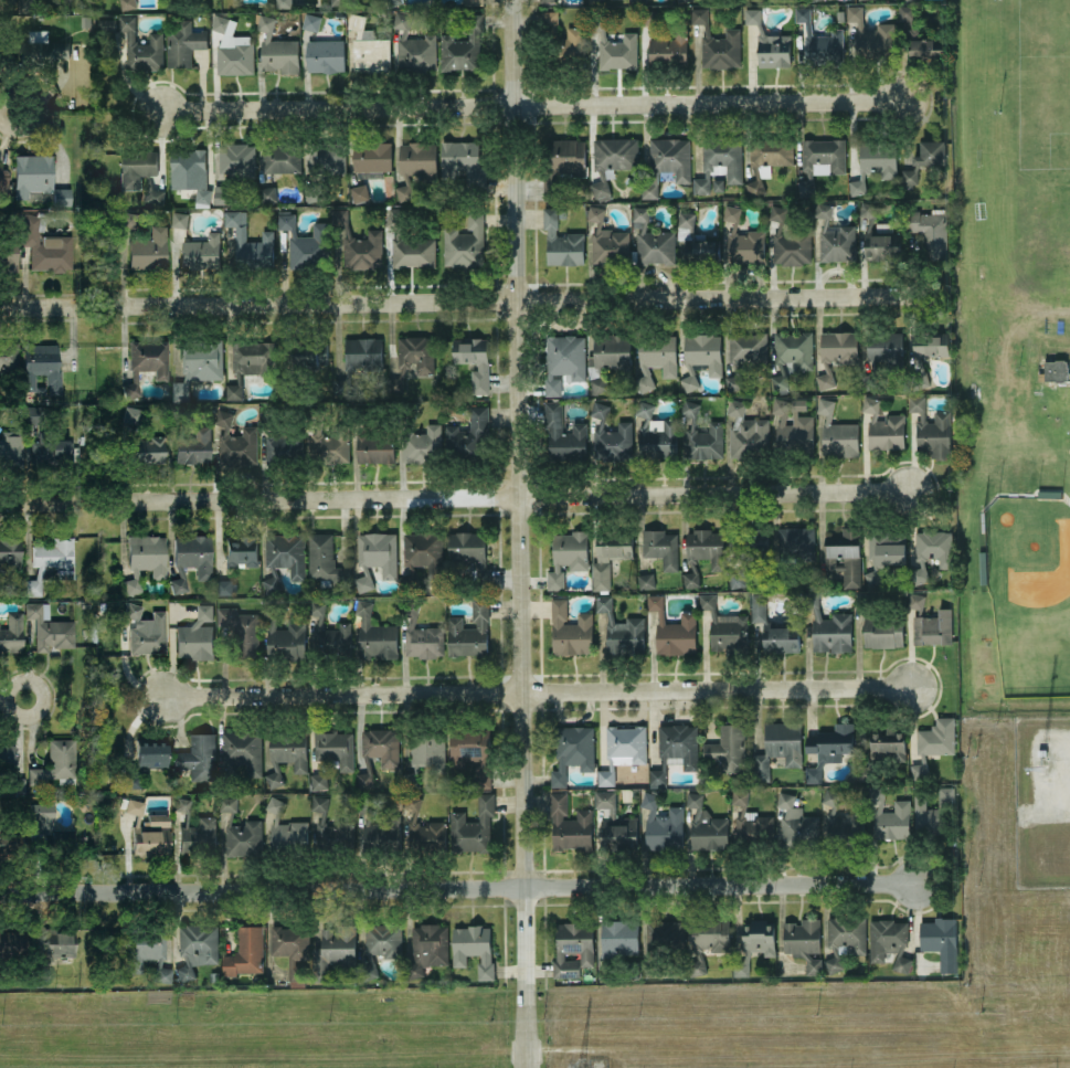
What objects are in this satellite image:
building: (8, 0)
building: (548, 0)
building: (592, 0)
building: (636, 0)
building: (685, 0)
building: (393, 1)
building: (473, 1)
building: (336, 2)
building: (127, 3)
building: (284, 3)
building: (25, 4)
building: (75, 10)
building: (904, 12)
building: (648, 15)
building: (752, 15)
building: (549, 19)
building: (85, 20)
building: (311, 21)
building: (108, 24)
building: (870, 34)
building: (819, 41)
building: (183, 42)
building: (572, 42)
building: (718, 43)
building: (368, 45)
building: (413, 45)
building: (141, 46)
building: (613, 46)
building: (232, 47)
building: (277, 49)
building: (668, 49)
building: (925, 49)
building: (43, 50)
building: (774, 50)
building: (459, 52)
building: (326, 55)
building: (6, 56)
park: (1043, 83)
road: (533, 104)
road: (42, 112)
building: (615, 152)
building: (770, 154)
building: (282, 157)
building: (372, 158)
building: (924, 159)
building: (719, 160)
building: (820, 160)
building: (564, 162)
building: (875, 162)
building: (325, 163)
building: (415, 163)
building: (666, 163)
building: (463, 165)
building: (233, 167)
building: (139, 171)
building: (190, 172)
building: (32, 173)
building: (151, 181)
building: (4, 183)
building: (754, 187)
building: (601, 189)
building: (358, 191)
building: (267, 193)
building: (62, 197)
building: (179, 218)
building: (929, 232)
building: (879, 235)
building: (834, 236)
building: (651, 239)
building: (743, 239)
building: (606, 240)
building: (303, 241)
building: (464, 241)
building: (561, 241)
building: (788, 241)
building: (696, 242)
building: (358, 243)
building: (407, 243)
building: (250, 244)
building: (45, 245)
building: (146, 245)
building: (200, 252)
building: (9, 254)
road: (534, 300)
road: (36, 308)
building: (926, 351)
building: (744, 352)
building: (835, 352)
building: (791, 353)
building: (880, 353)
building: (9, 356)
building: (700, 356)
building: (413, 357)
building: (359, 358)
building: (606, 358)
building: (656, 358)
building: (473, 359)
building: (563, 360)
building: (250, 361)
building: (304, 361)
building: (147, 362)
building: (199, 362)
building: (41, 368)
building: (1056, 370)
building: (882, 425)
building: (793, 426)
building: (930, 427)
building: (745, 430)
building: (837, 431)
building: (563, 433)
building: (655, 433)
building: (469, 434)
building: (701, 434)
building: (611, 435)
building: (279, 437)
building: (327, 437)
building: (372, 438)
building: (142, 440)
building: (191, 440)
building: (421, 441)
building: (236, 442)
building: (47, 443)
building: (13, 447)
building: (91, 455)
road: (517, 496)
road: (38, 503)
road: (523, 533)
building: (753, 543)
building: (660, 546)
building: (794, 546)
building: (242, 549)
building: (702, 551)
building: (11, 552)
building: (883, 552)
building: (930, 552)
building: (608, 553)
building: (470, 554)
building: (845, 554)
building: (421, 556)
building: (566, 556)
building: (375, 557)
building: (283, 558)
building: (146, 559)
building: (191, 559)
building: (52, 561)
building: (326, 562)
building: (737, 578)
building: (646, 580)
building: (224, 586)
park: (1038, 604)
building: (930, 622)
building: (879, 624)
building: (724, 625)
building: (829, 626)
building: (775, 627)
building: (50, 628)
building: (672, 628)
building: (146, 630)
building: (570, 630)
building: (622, 630)
building: (468, 631)
building: (241, 632)
building: (328, 632)
building: (12, 633)
building: (374, 634)
building: (421, 634)
building: (94, 635)
building: (197, 635)
building: (284, 636)
road: (540, 694)
road: (3, 699)
road: (42, 699)
building: (933, 742)
building: (333, 747)
building: (727, 747)
building: (777, 747)
building: (828, 748)
building: (8, 749)
building: (622, 749)
building: (675, 749)
building: (572, 750)
building: (378, 751)
building: (286, 752)
building: (473, 752)
building: (881, 752)
building: (1041, 752)
building: (241, 753)
building: (425, 753)
building: (199, 757)
building: (147, 761)
building: (57, 763)
road: (1046, 779)
building: (318, 780)
building: (18, 785)
building: (626, 794)
power substation: (1041, 801)
building: (932, 814)
building: (889, 815)
building: (614, 821)
building: (795, 823)
building: (843, 823)
building: (569, 824)
building: (661, 824)
building: (751, 824)
building: (706, 825)
building: (286, 826)
building: (472, 826)
building: (331, 828)
building: (148, 829)
building: (379, 829)
building: (424, 829)
building: (195, 831)
building: (240, 832)
building: (53, 833)
building: (11, 842)
road: (459, 887)
building: (844, 937)
building: (707, 939)
building: (616, 940)
building: (941, 940)
building: (664, 941)
building: (755, 941)
building: (803, 941)
building: (889, 941)
building: (11, 942)
building: (380, 945)
building: (573, 945)
building: (56, 947)
building: (195, 947)
building: (473, 947)
building: (427, 948)
building: (292, 950)
building: (245, 951)
building: (333, 951)
building: (147, 952)
building: (214, 976)
road: (592, 1048)
power tower: (582, 1066)

